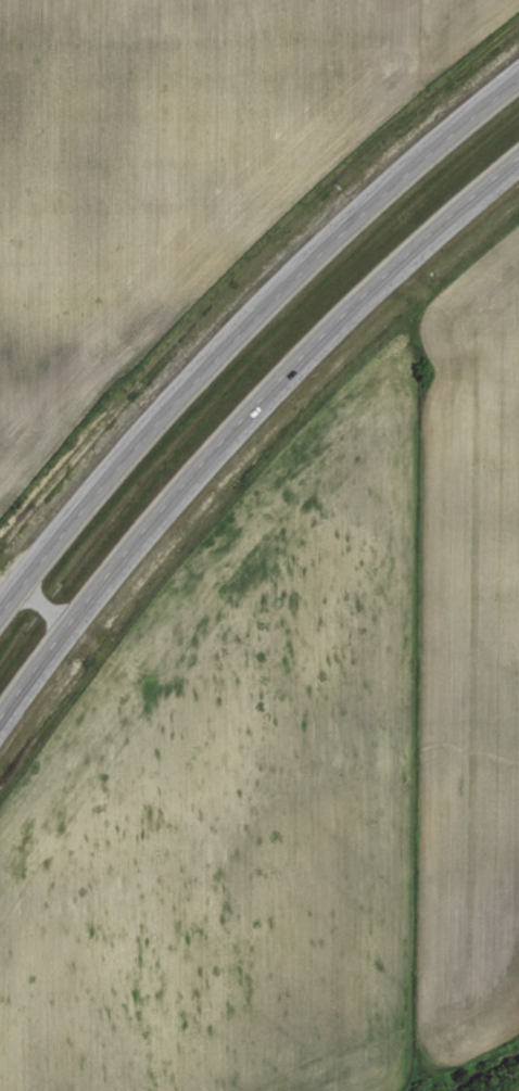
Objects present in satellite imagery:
crop: (183, 134)
road: (242, 329)
road: (235, 442)
road: (51, 612)

